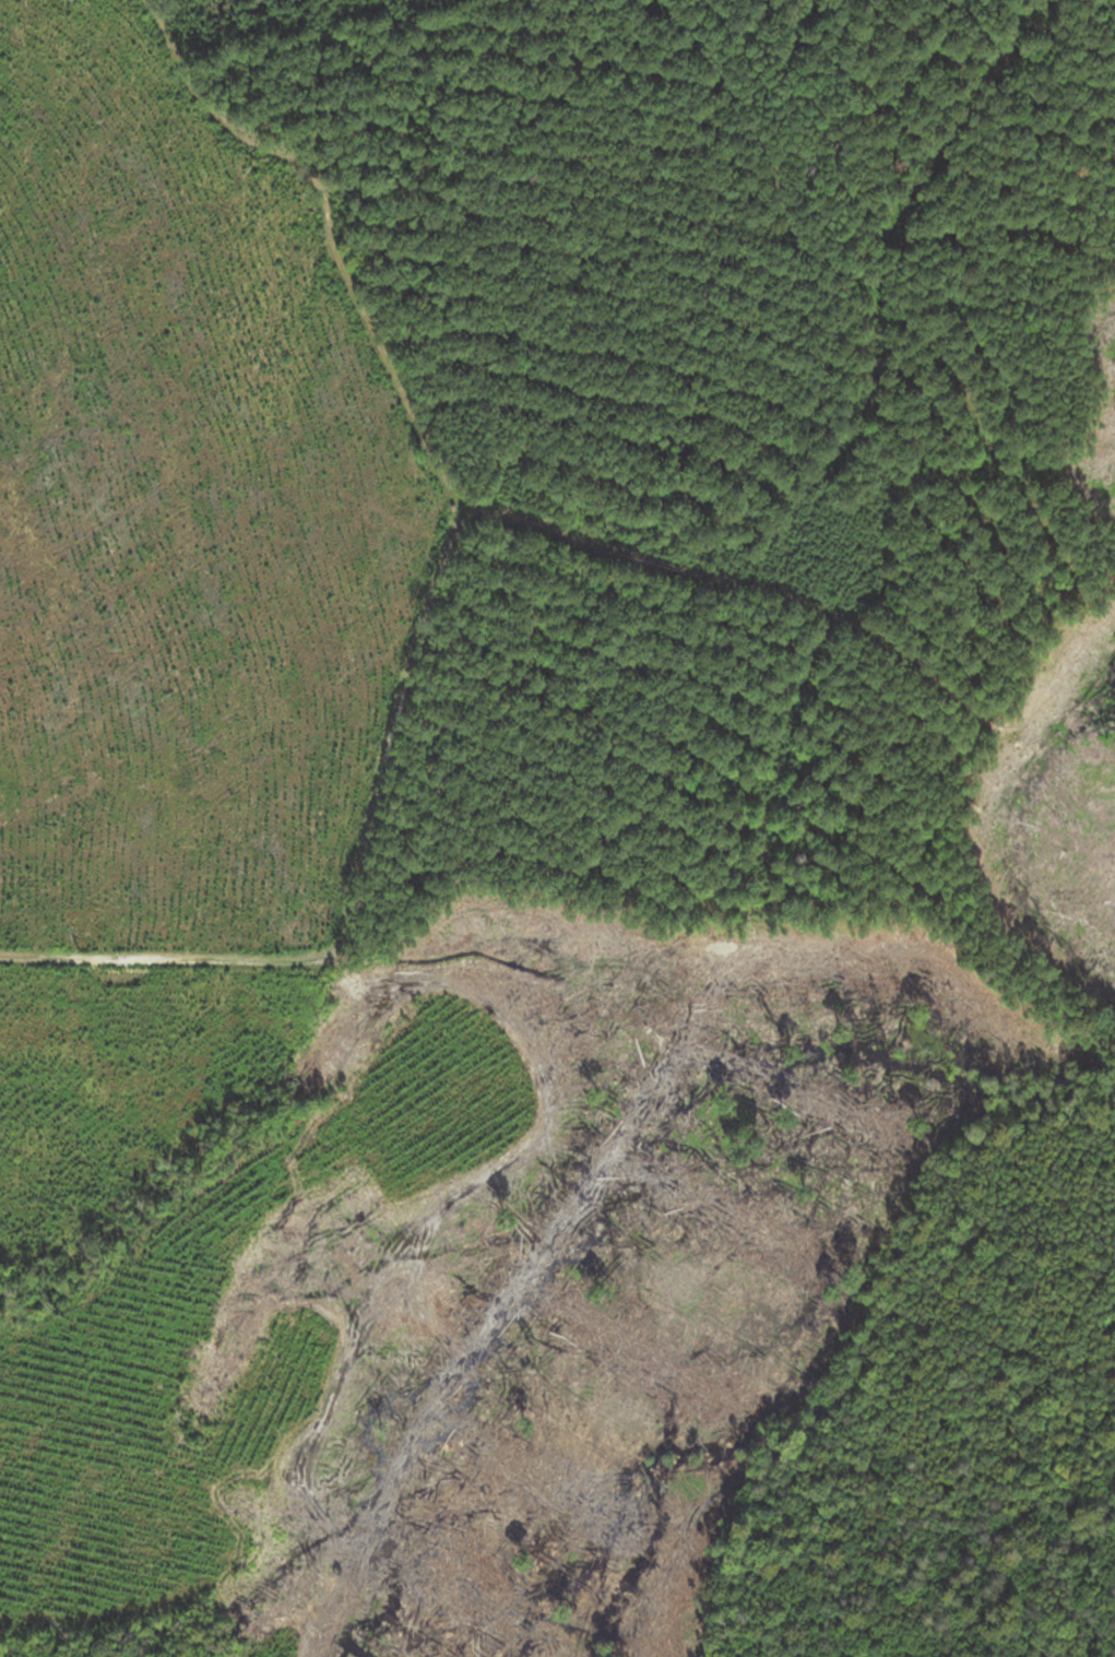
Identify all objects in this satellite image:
road: (1111, 1638)

